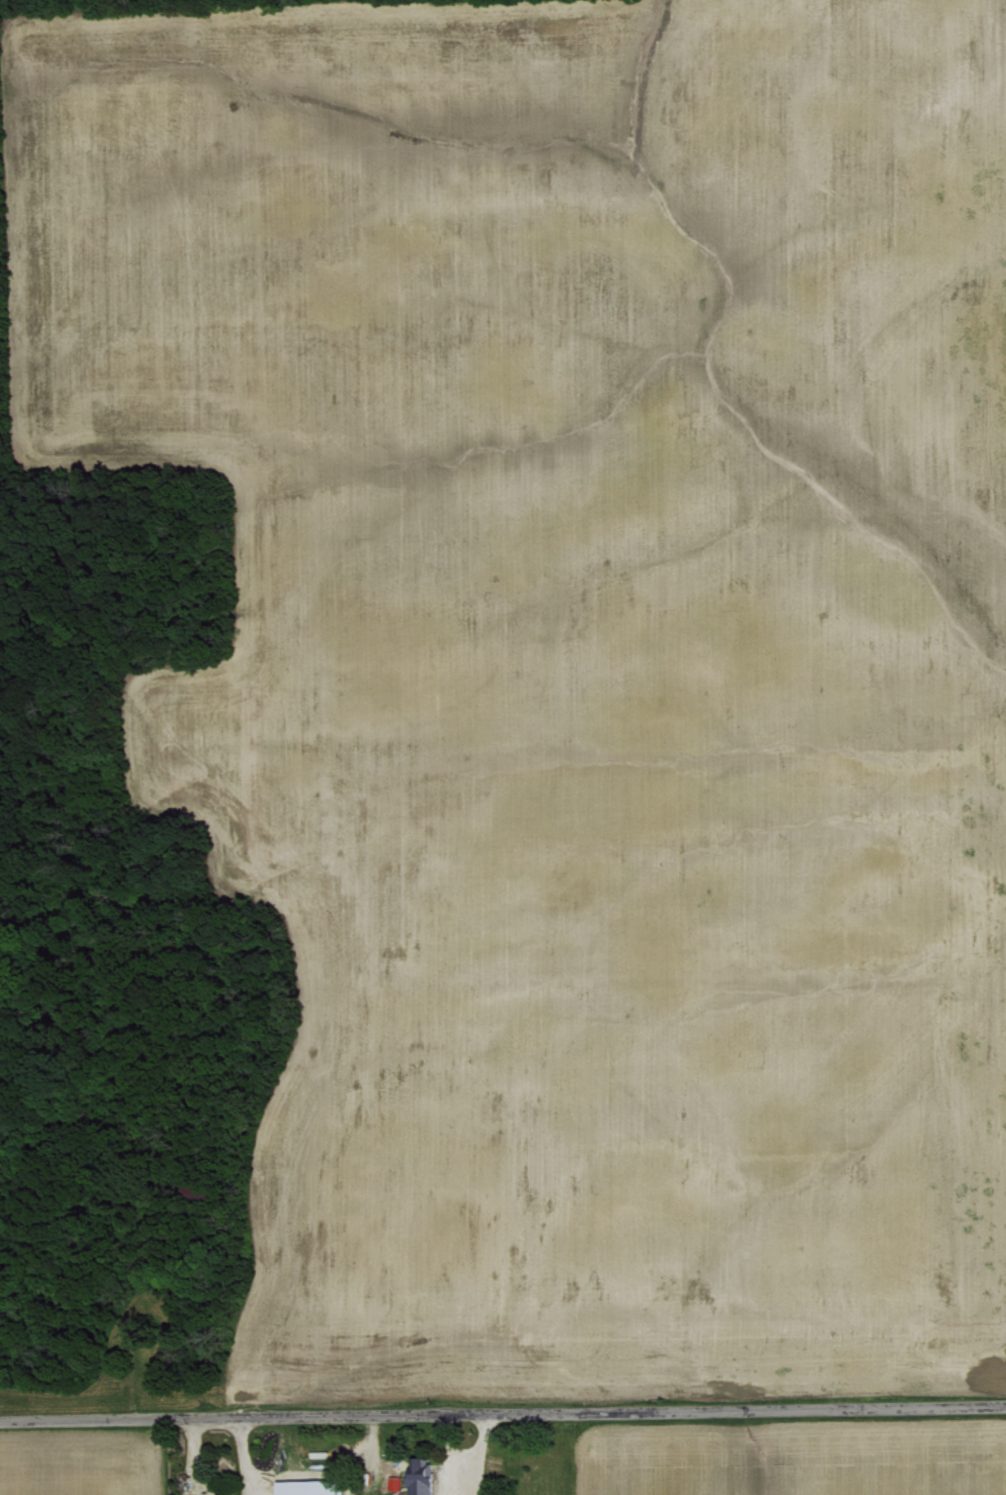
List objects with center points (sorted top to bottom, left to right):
road: (502, 1413)
road: (480, 1454)
road: (243, 1457)
road: (188, 1458)
building: (490, 1462)
building: (418, 1476)
building: (309, 1487)
building: (196, 1494)

